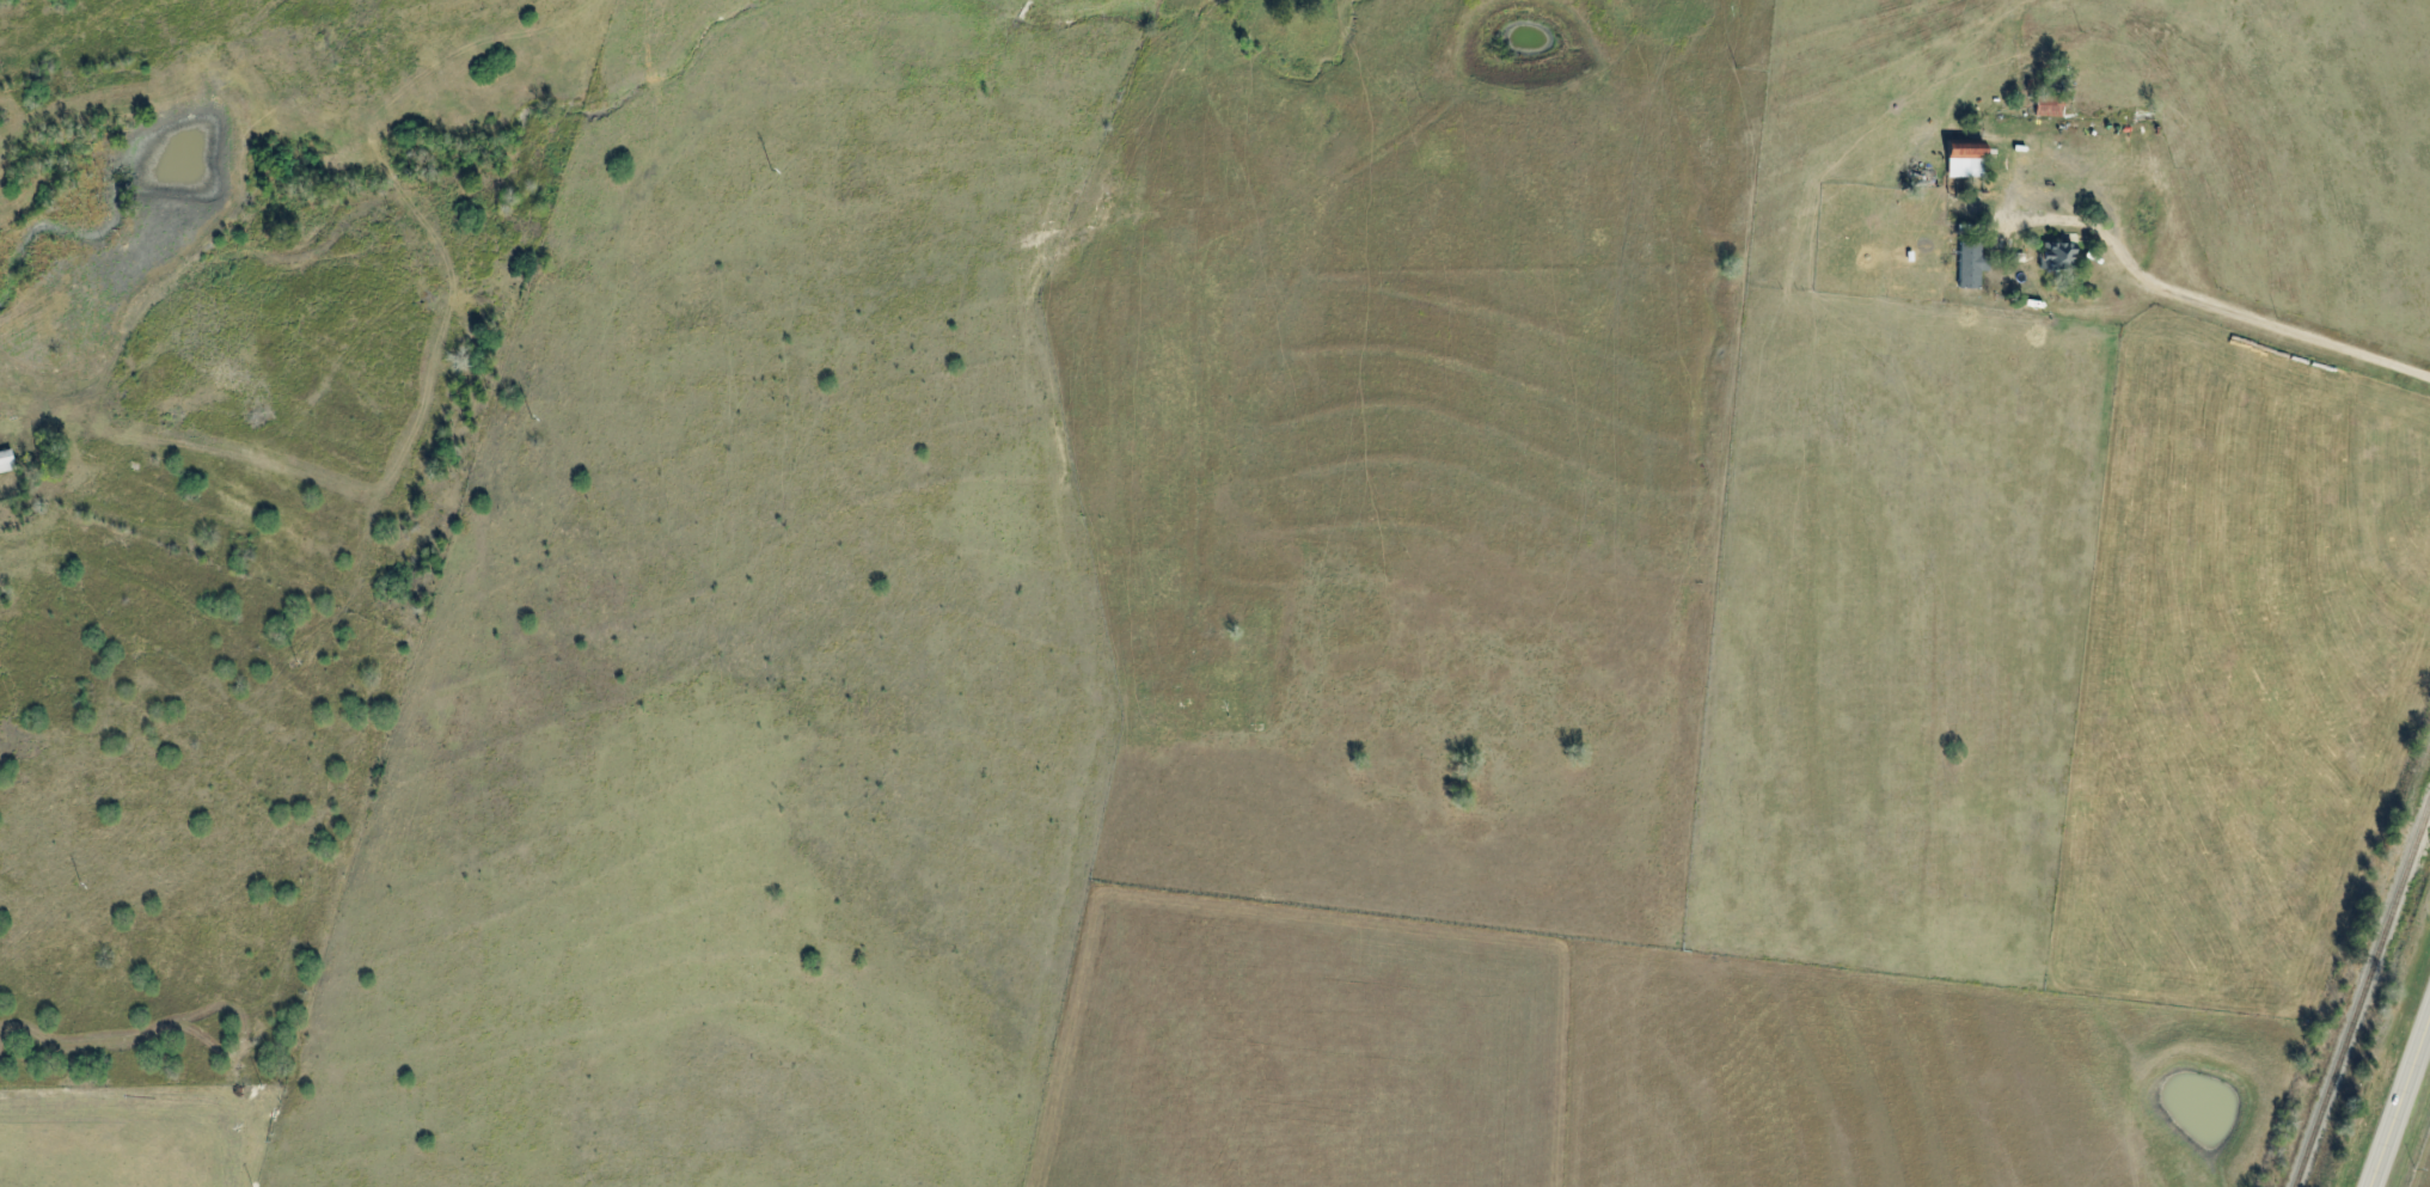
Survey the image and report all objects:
road: (224, 42)
building: (1961, 163)
building: (2055, 255)
building: (1969, 264)
road: (2211, 299)
railway: (2362, 996)
road: (2404, 1113)

